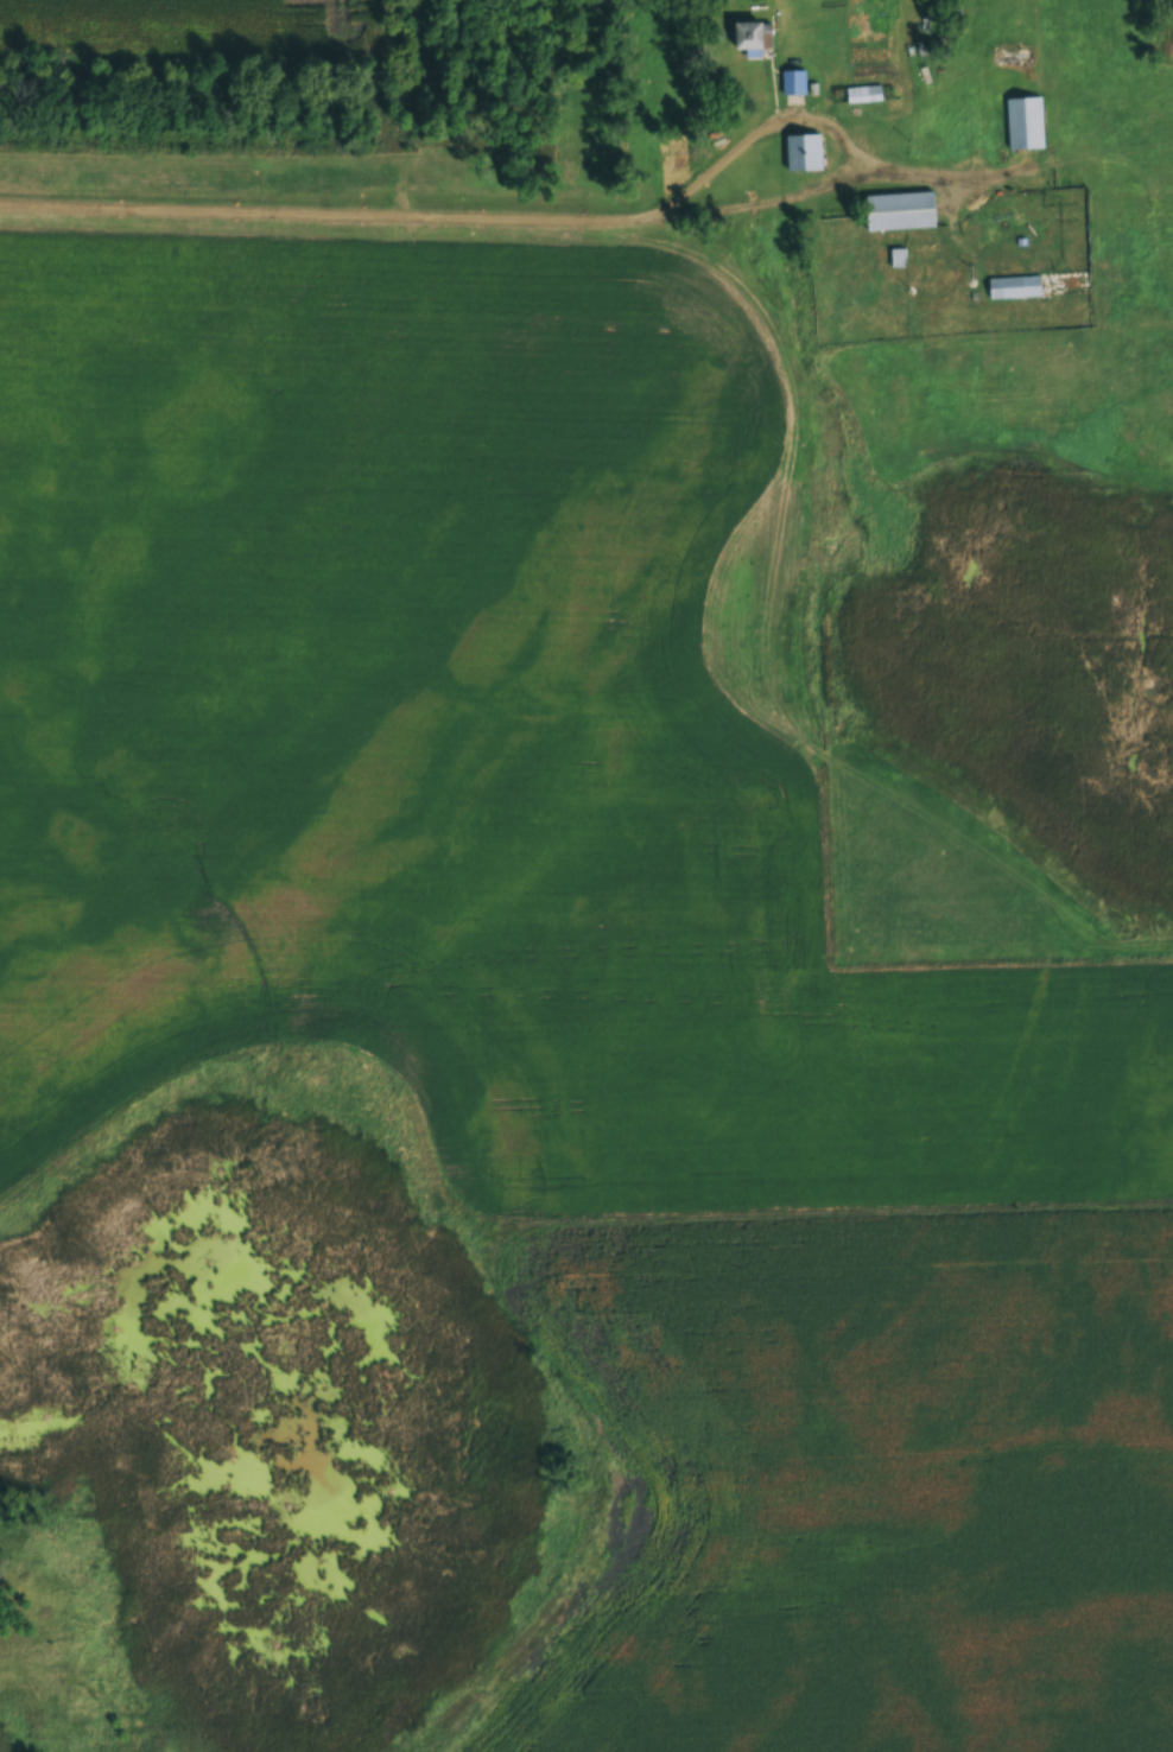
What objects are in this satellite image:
building: (747, 37)
building: (791, 82)
building: (860, 94)
building: (1022, 123)
building: (799, 153)
building: (896, 211)
road: (494, 217)
building: (1009, 287)

